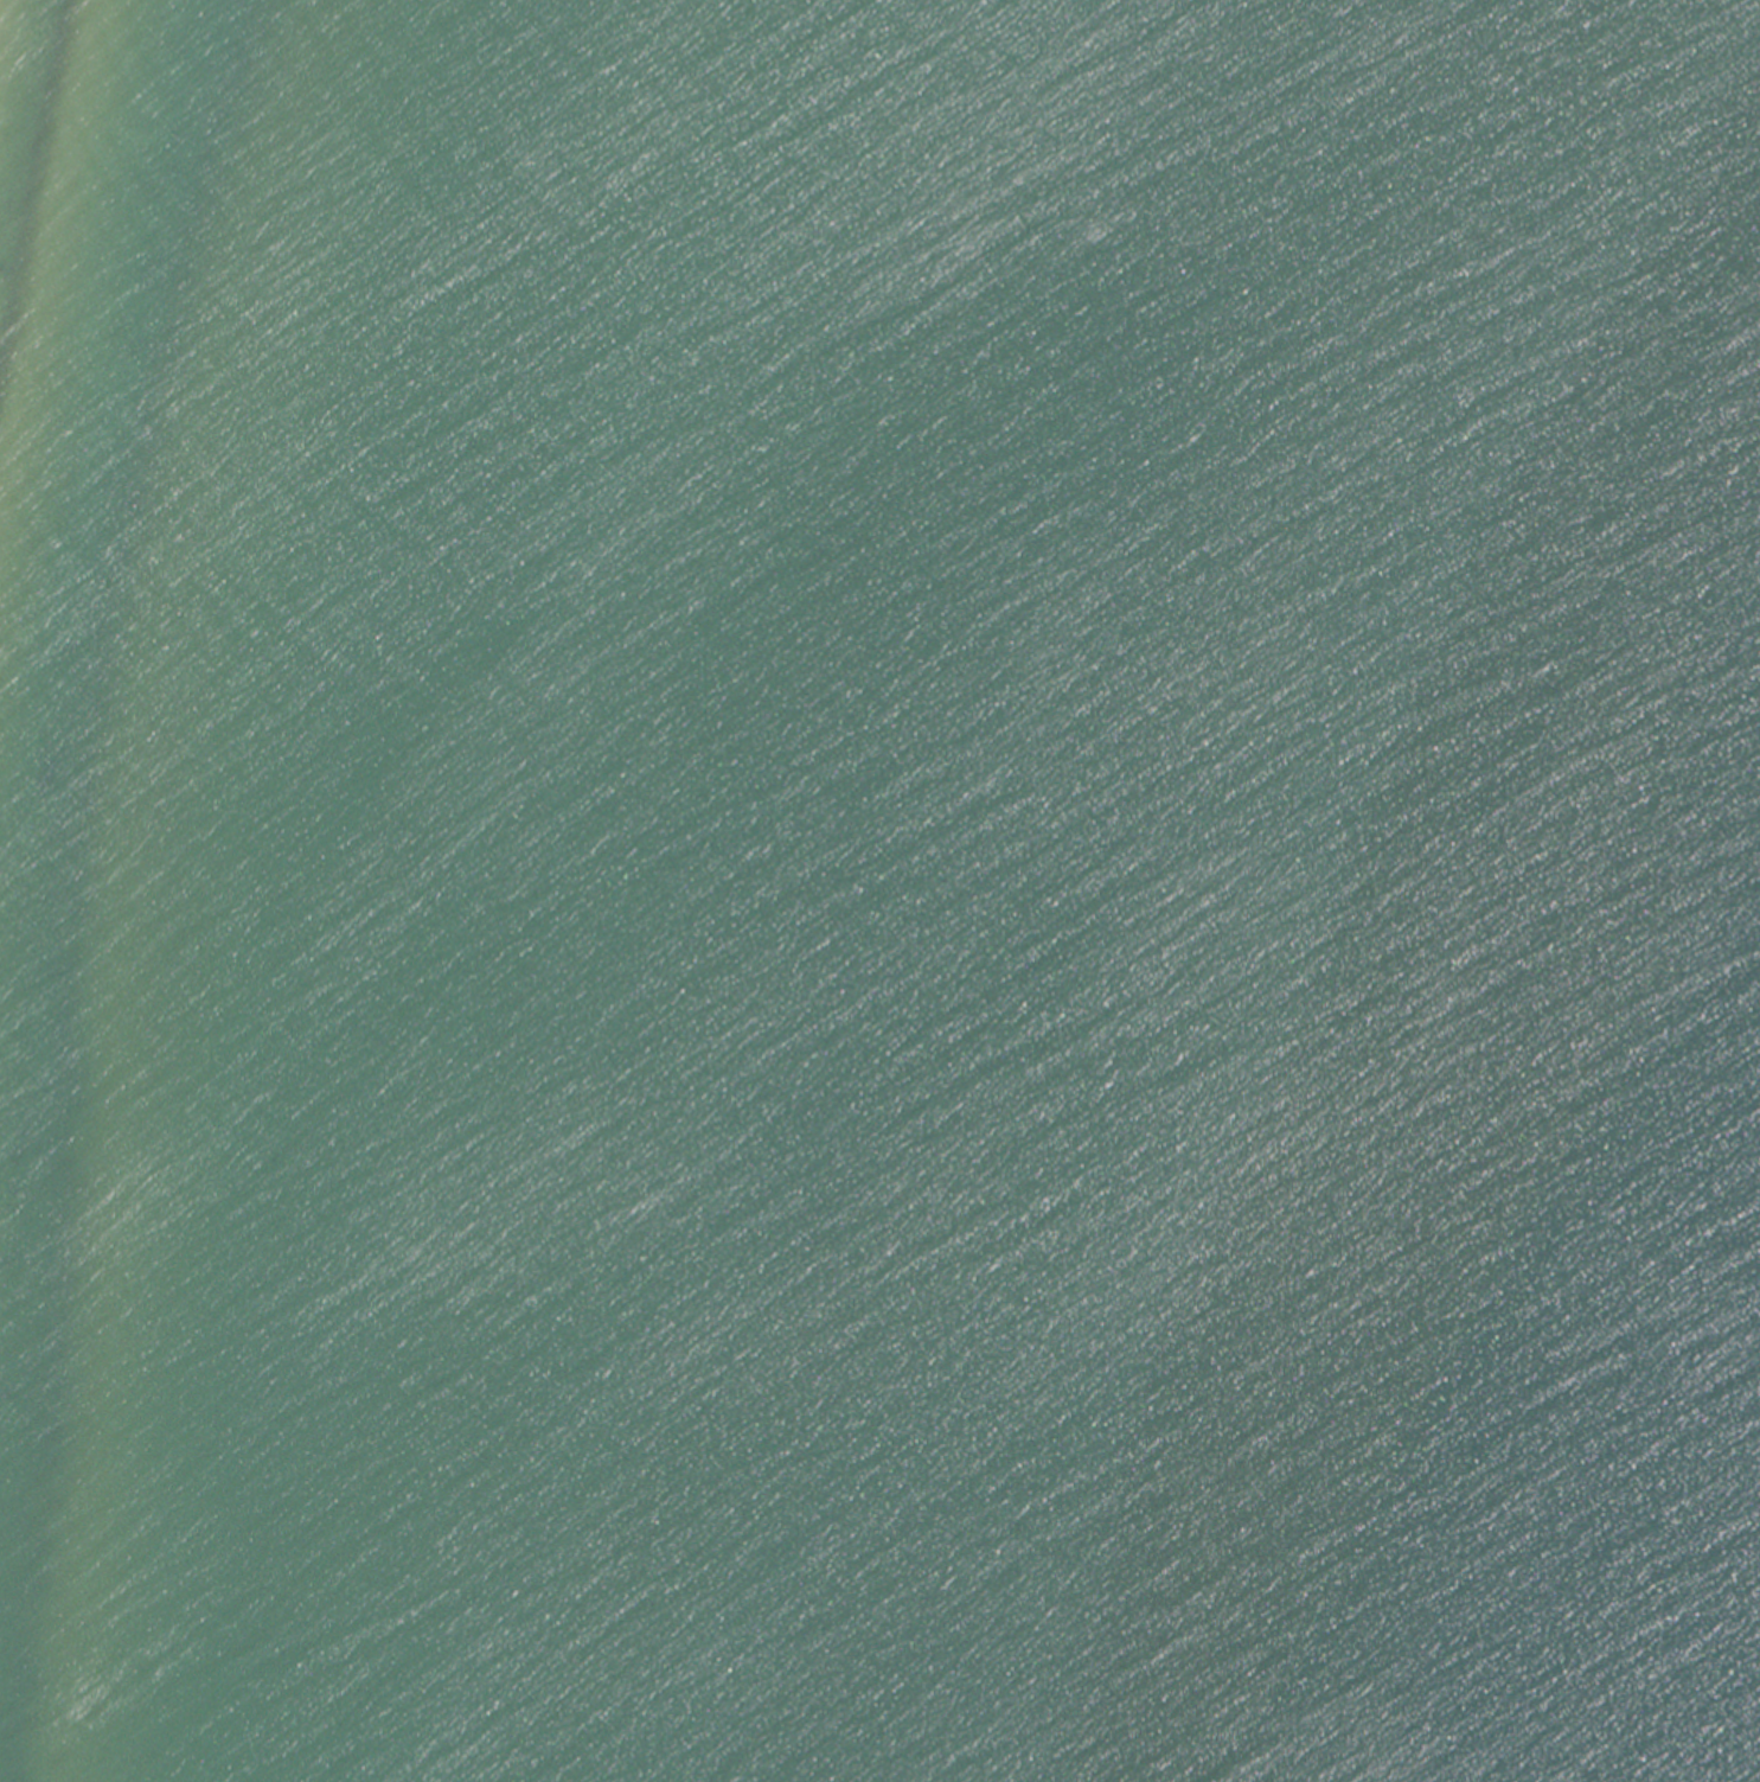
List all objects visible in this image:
park: (4, 17)

